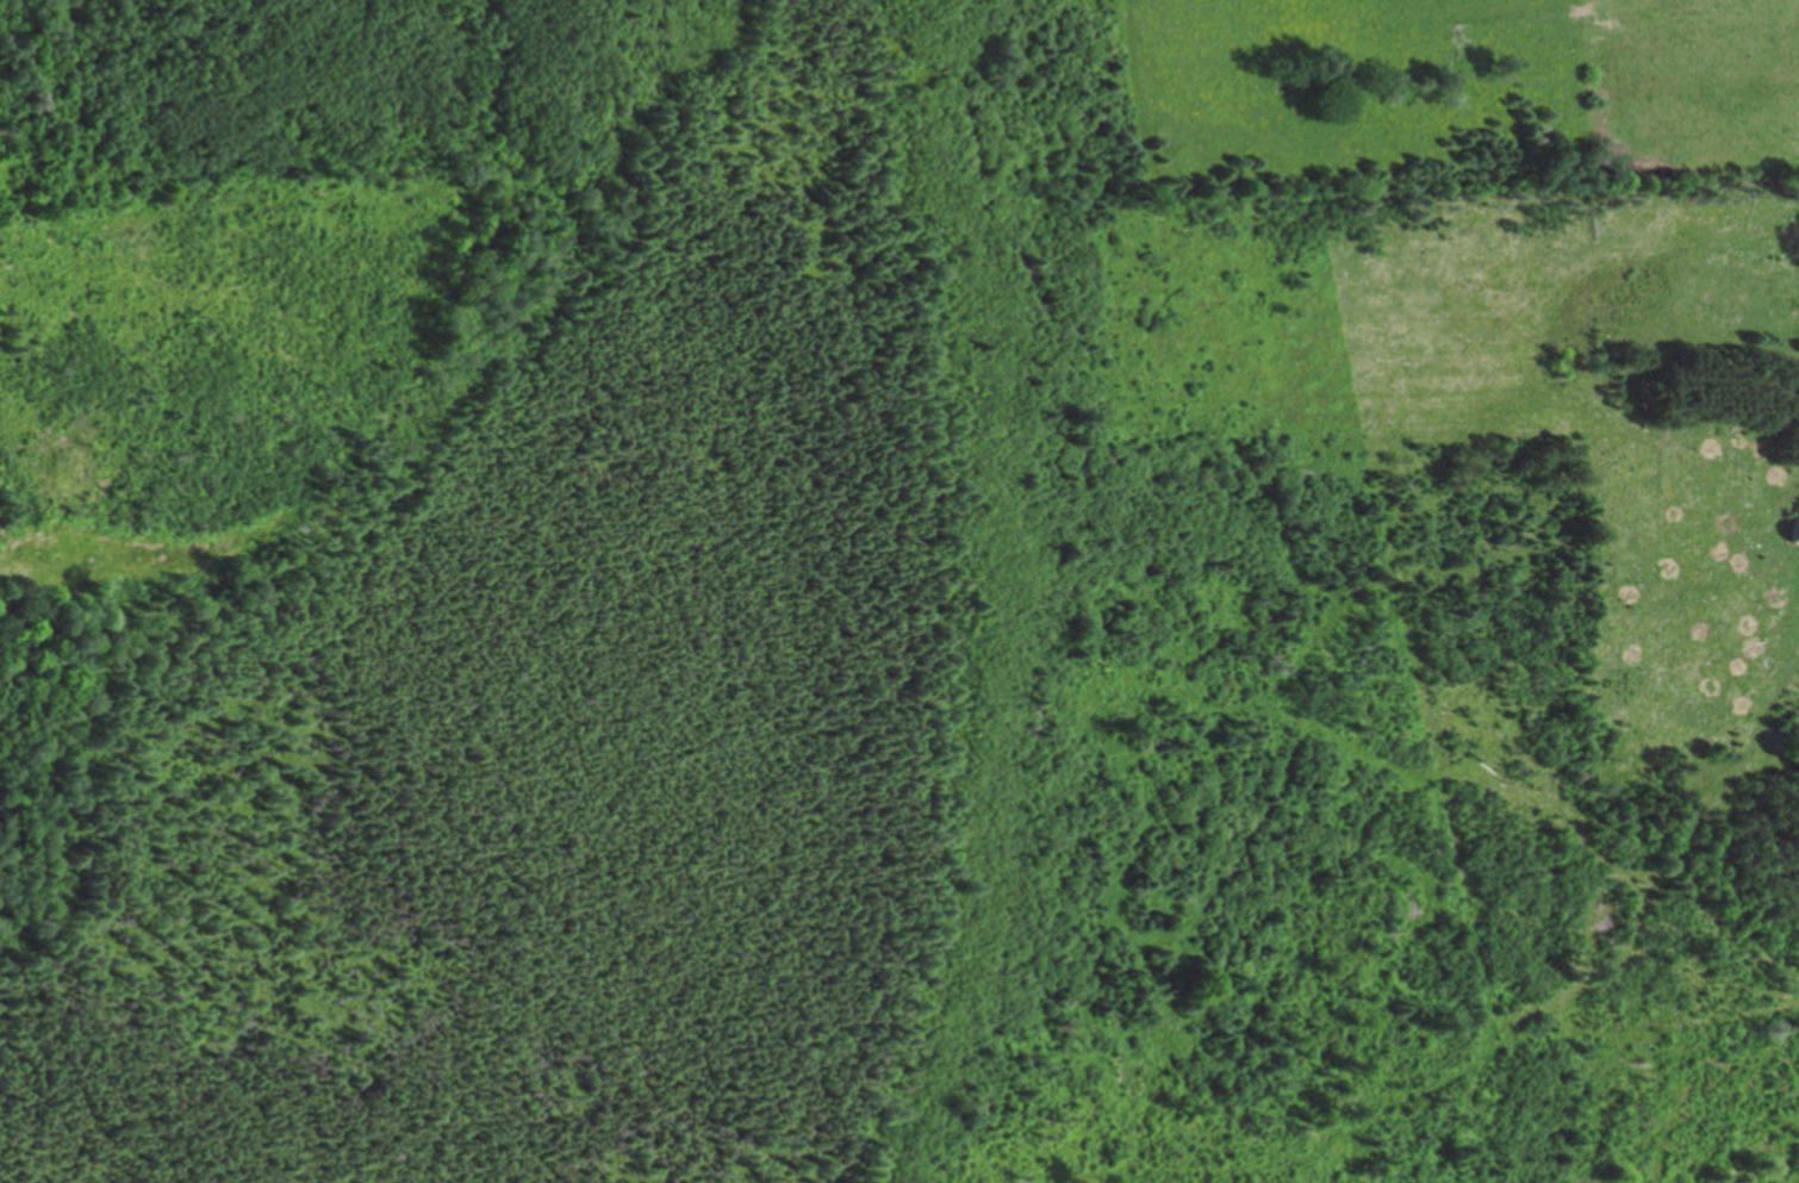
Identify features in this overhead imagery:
building: (1797, 531)

